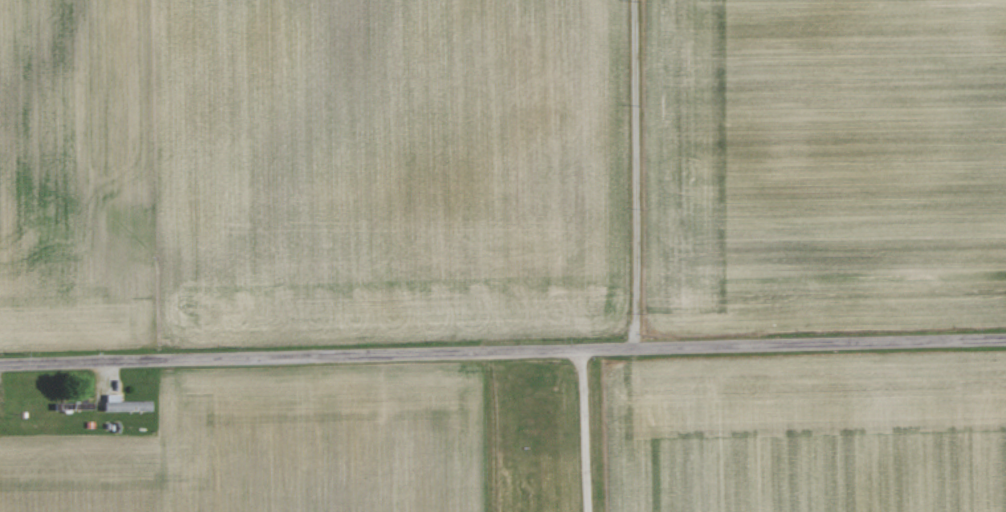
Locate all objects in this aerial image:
road: (633, 173)
road: (502, 349)
road: (581, 430)

